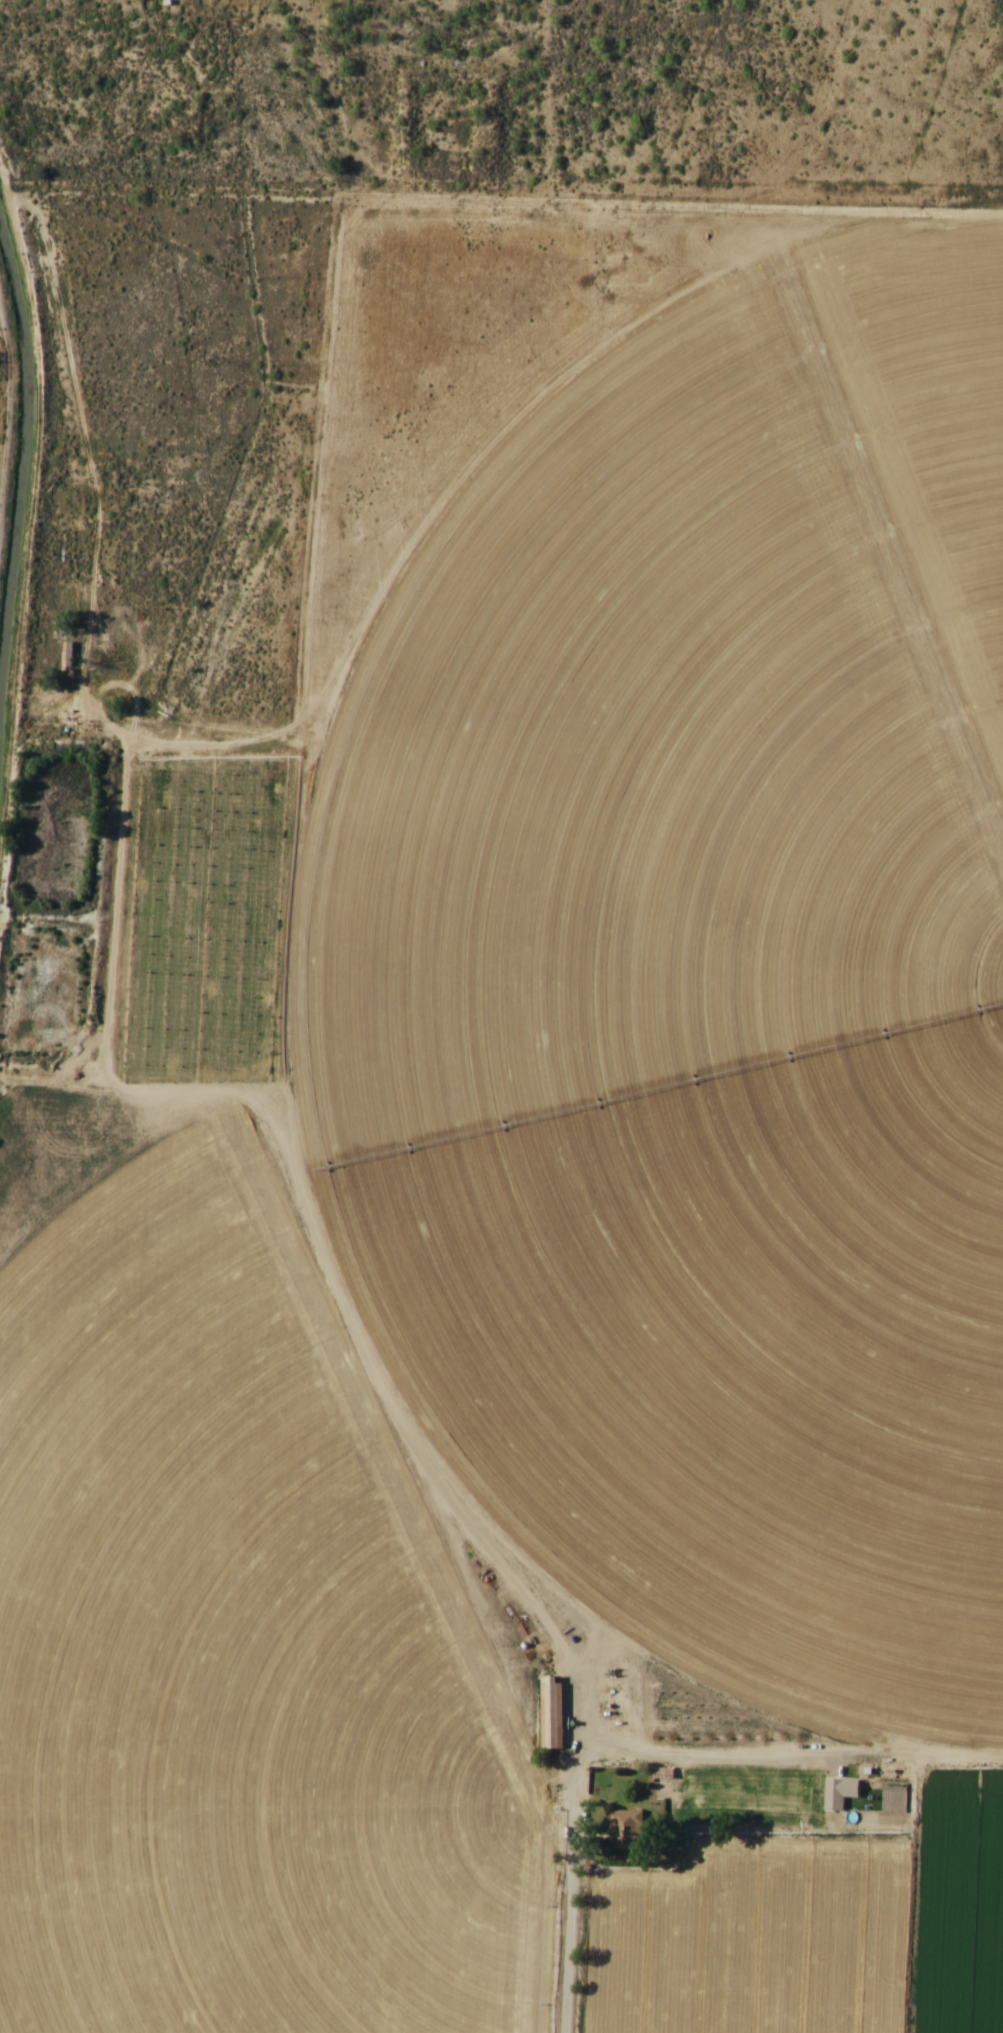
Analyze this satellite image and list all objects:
building: (67, 654)
building: (551, 1712)
building: (833, 1794)
building: (625, 1829)
road: (570, 1913)

